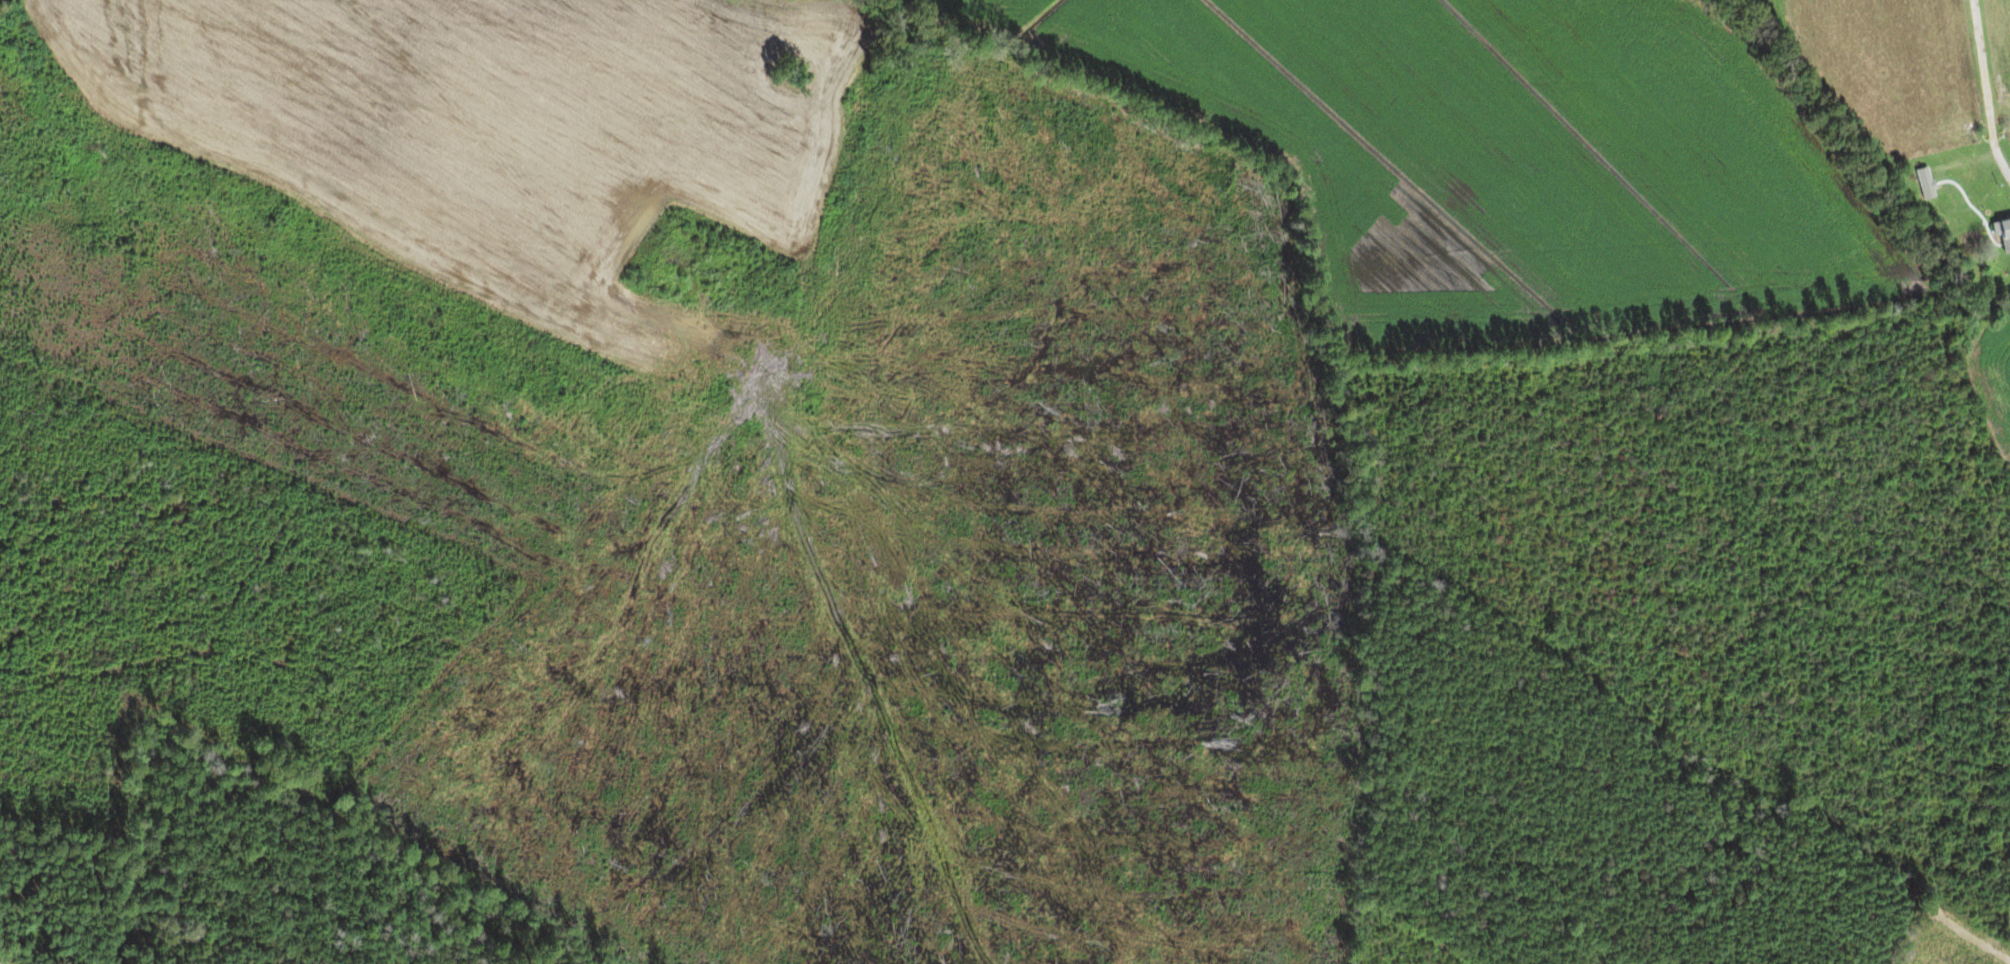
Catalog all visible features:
road: (1979, 51)
building: (2002, 228)

